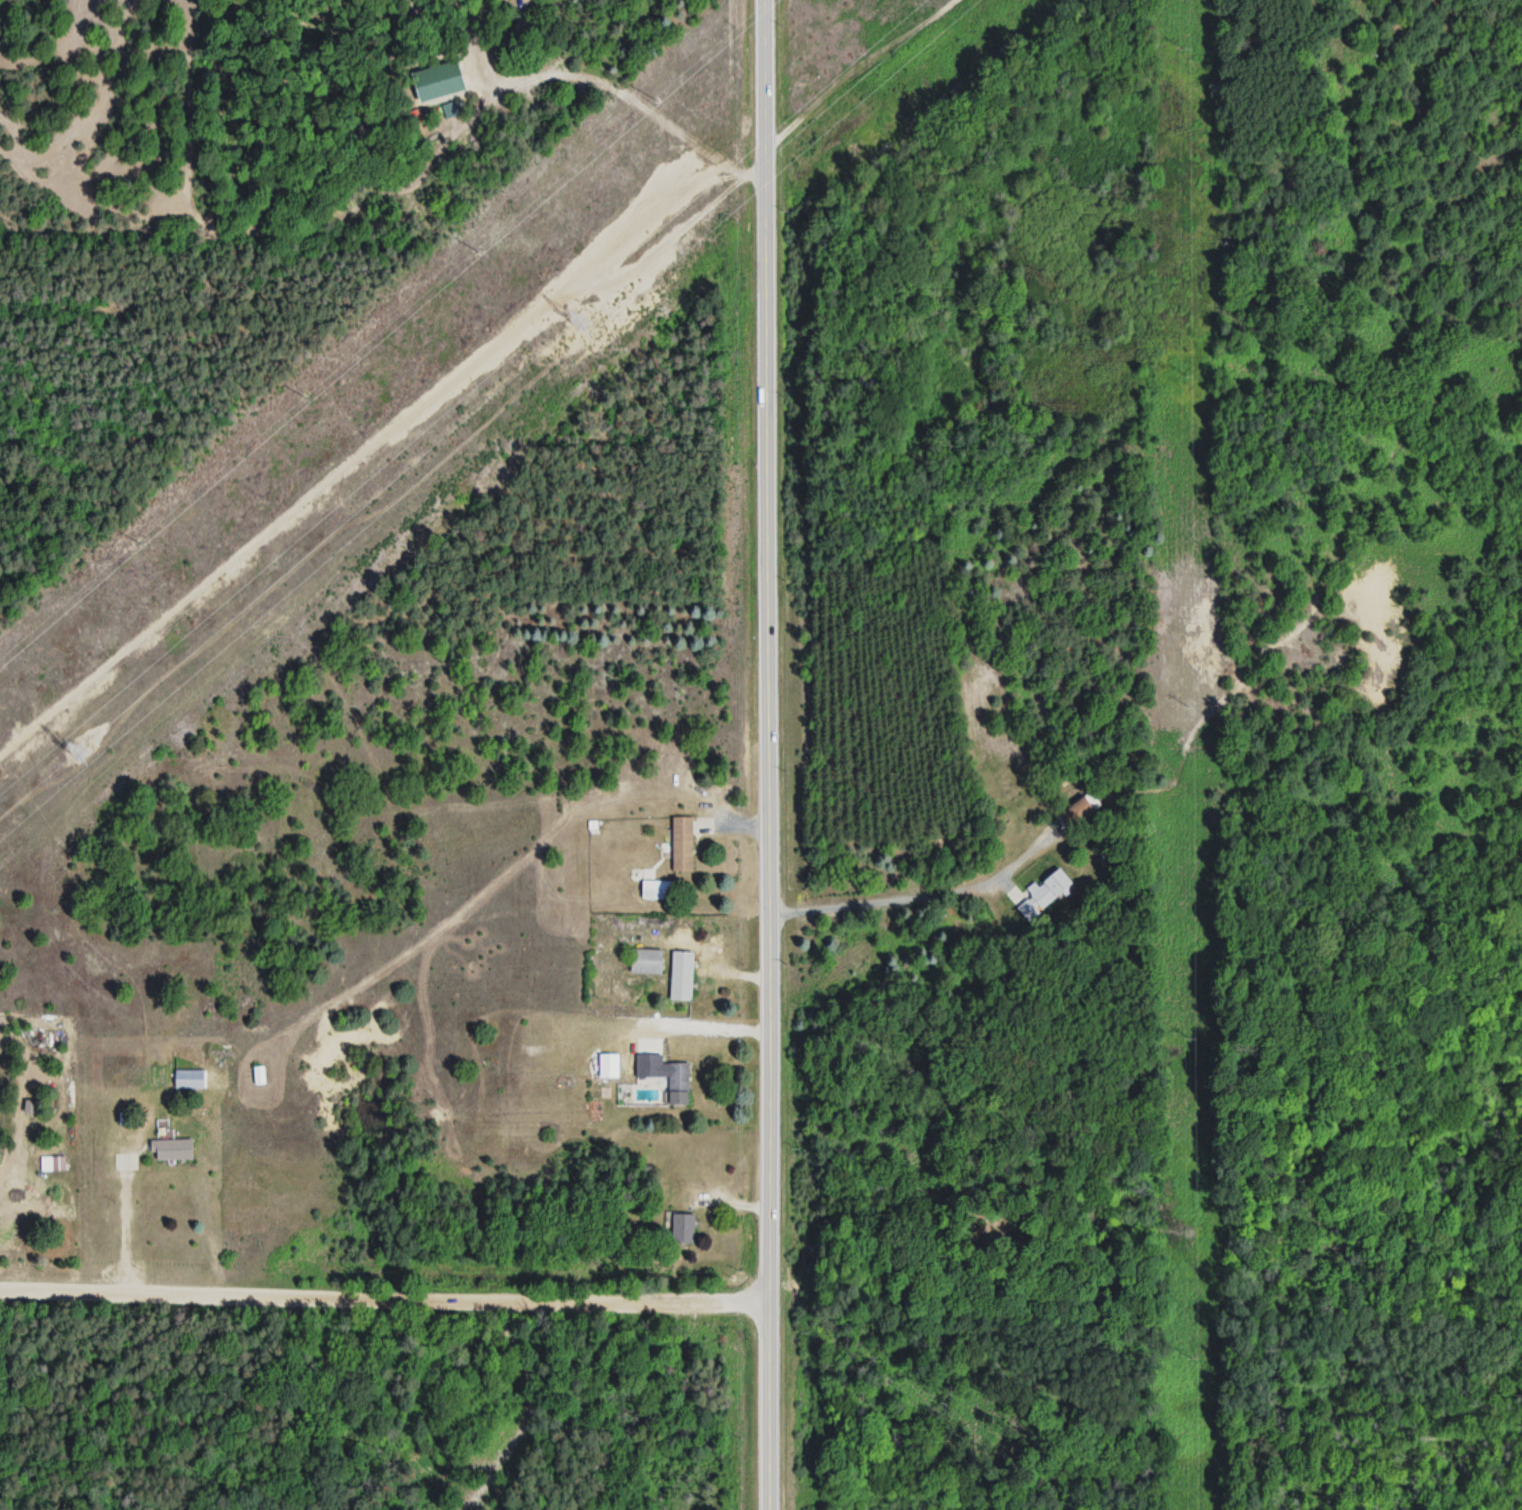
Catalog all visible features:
power tower: (581, 316)
power tower: (77, 751)
road: (766, 754)
building: (682, 844)
building: (1049, 890)
building: (655, 891)
building: (645, 961)
building: (681, 987)
building: (608, 1066)
building: (665, 1076)
building: (188, 1080)
building: (171, 1150)
building: (58, 1164)
building: (682, 1229)
road: (384, 1293)

